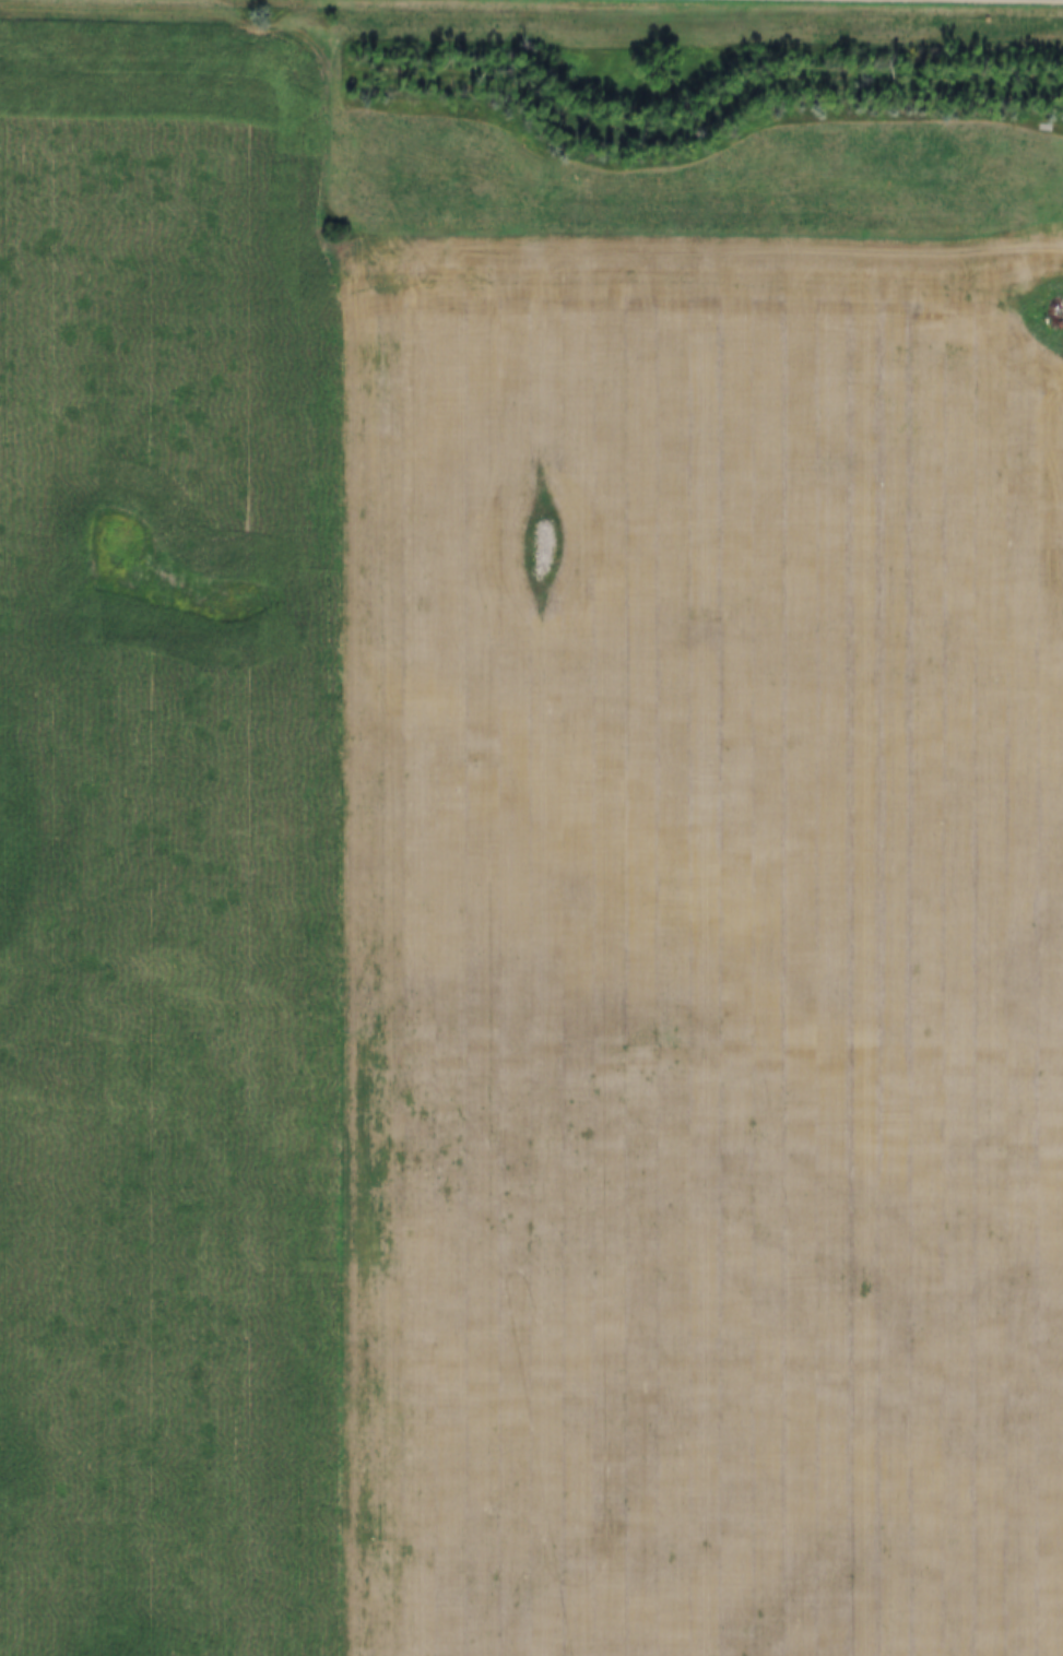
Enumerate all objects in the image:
road: (1036, 0)

